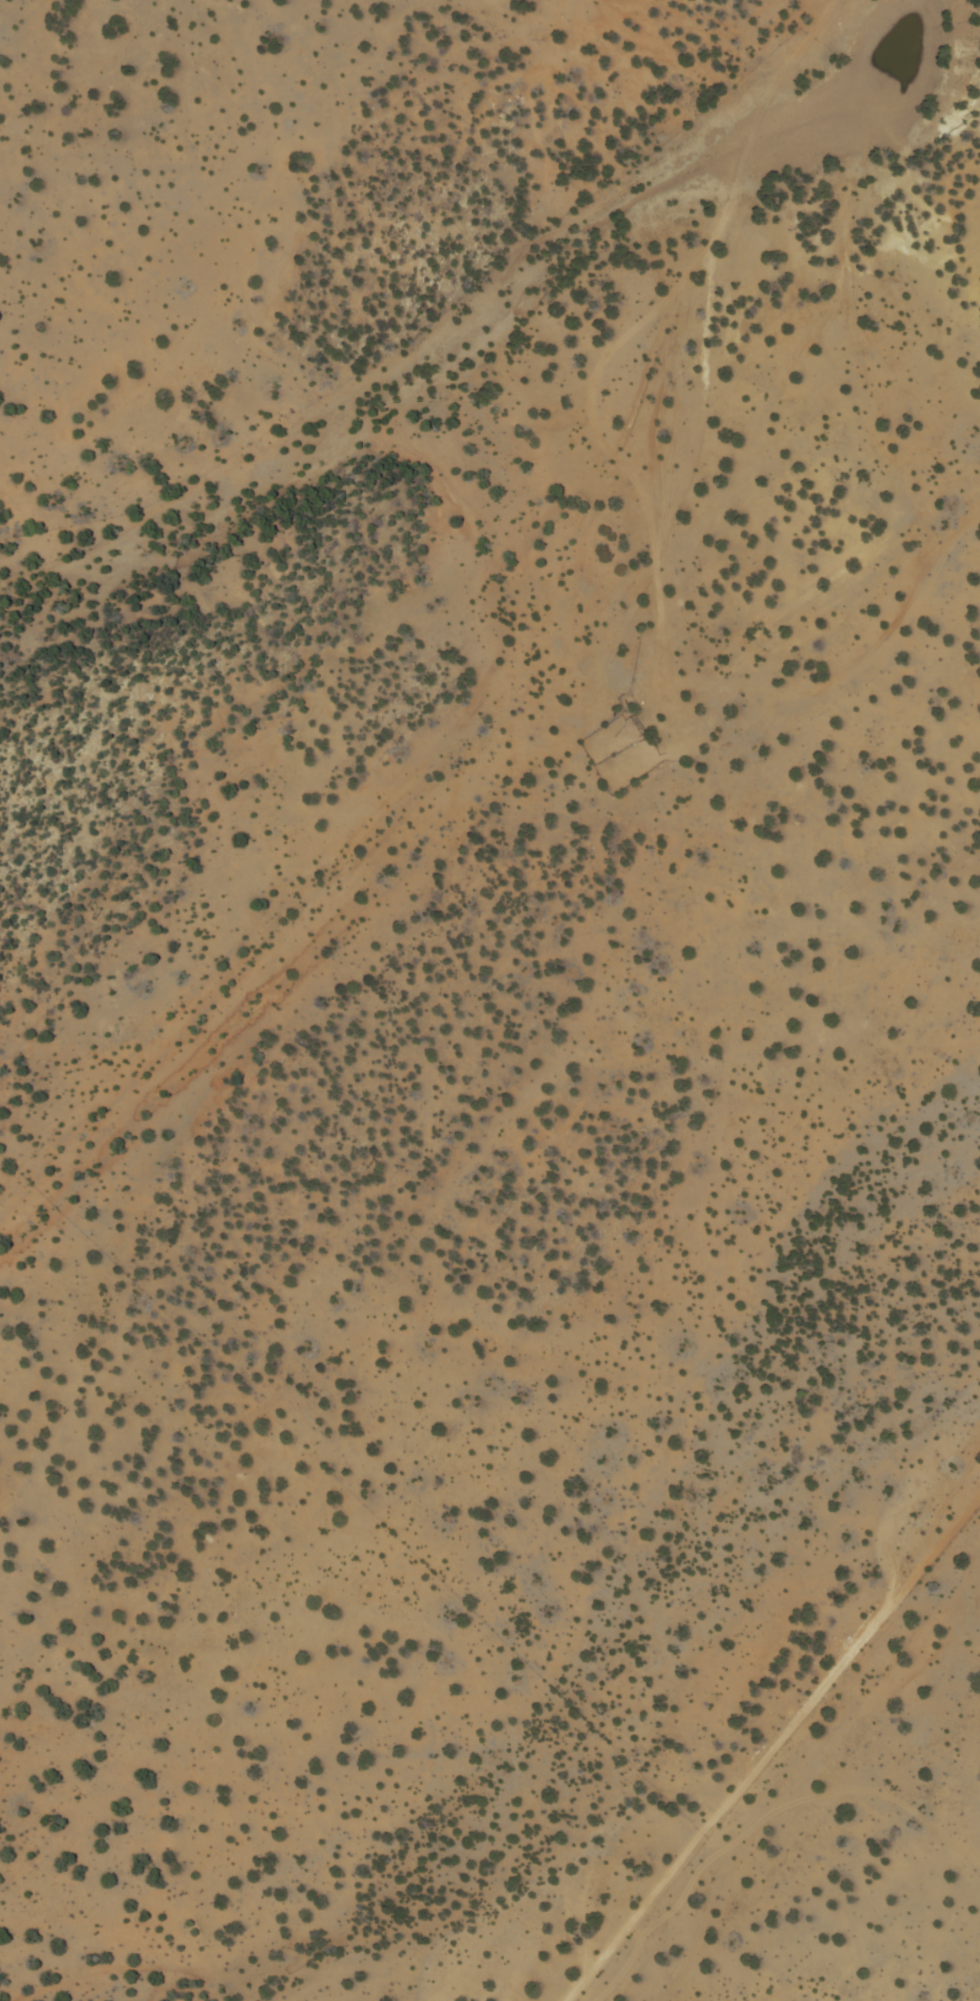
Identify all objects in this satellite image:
road: (875, 659)

